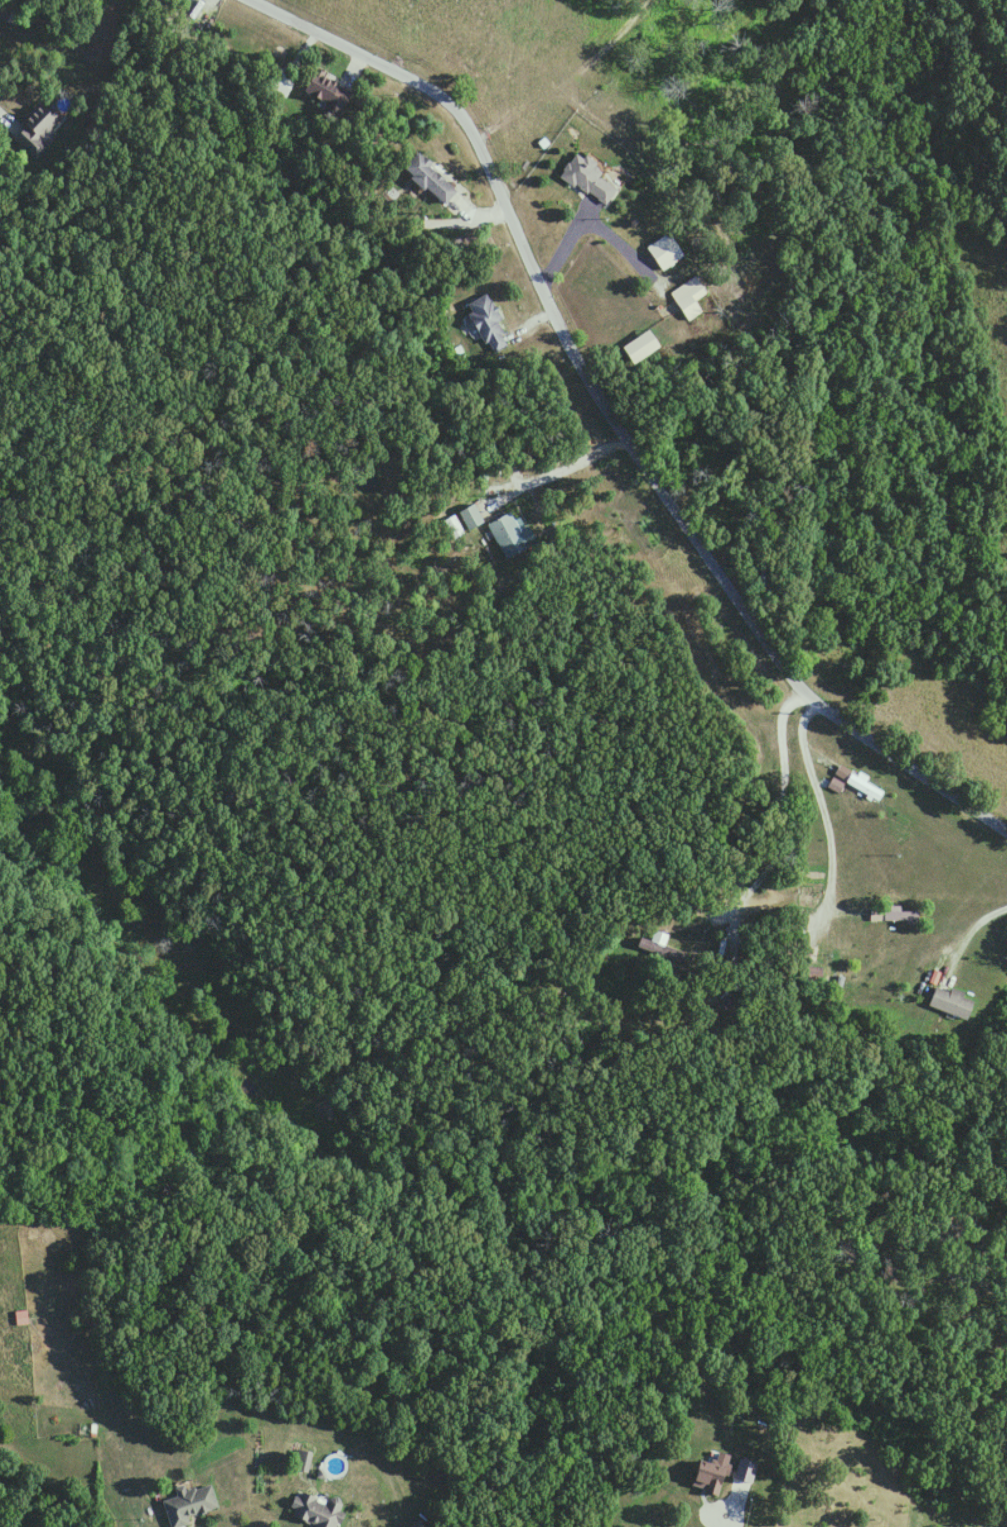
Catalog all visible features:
building: (329, 95)
road: (5, 117)
building: (36, 130)
building: (432, 178)
building: (588, 178)
road: (582, 227)
building: (693, 301)
building: (489, 323)
building: (645, 347)
road: (611, 420)
road: (552, 472)
building: (471, 517)
building: (511, 536)
road: (825, 831)
road: (771, 833)
building: (893, 915)
building: (661, 937)
road: (961, 938)
building: (954, 1002)
building: (190, 1504)
building: (315, 1510)
road: (737, 1518)

